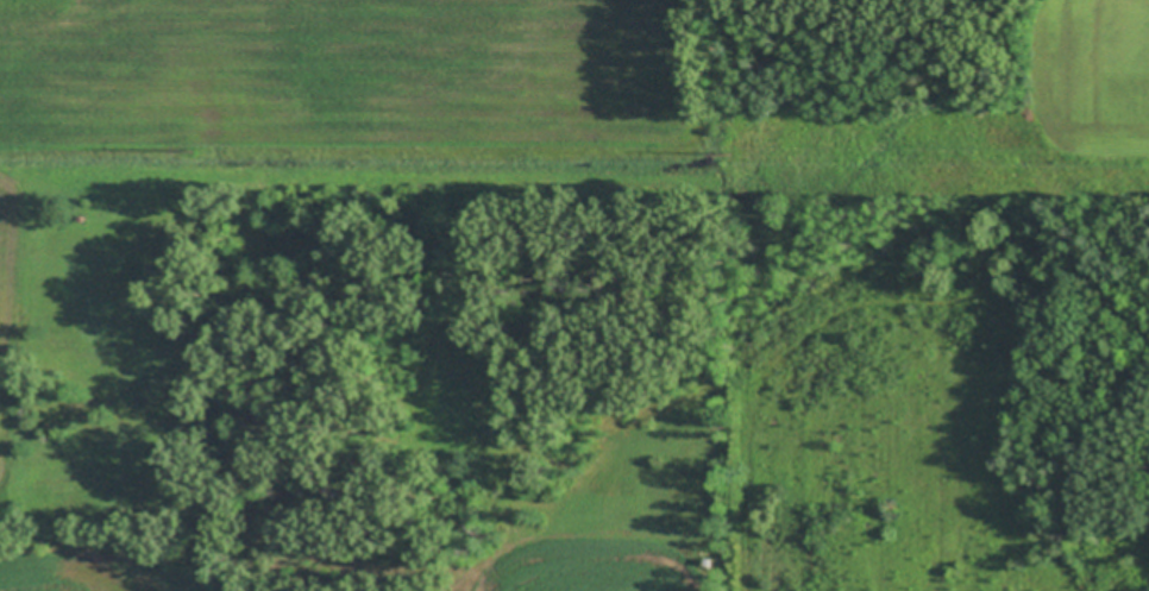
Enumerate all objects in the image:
power tower: (193, 151)
power tower: (751, 161)

